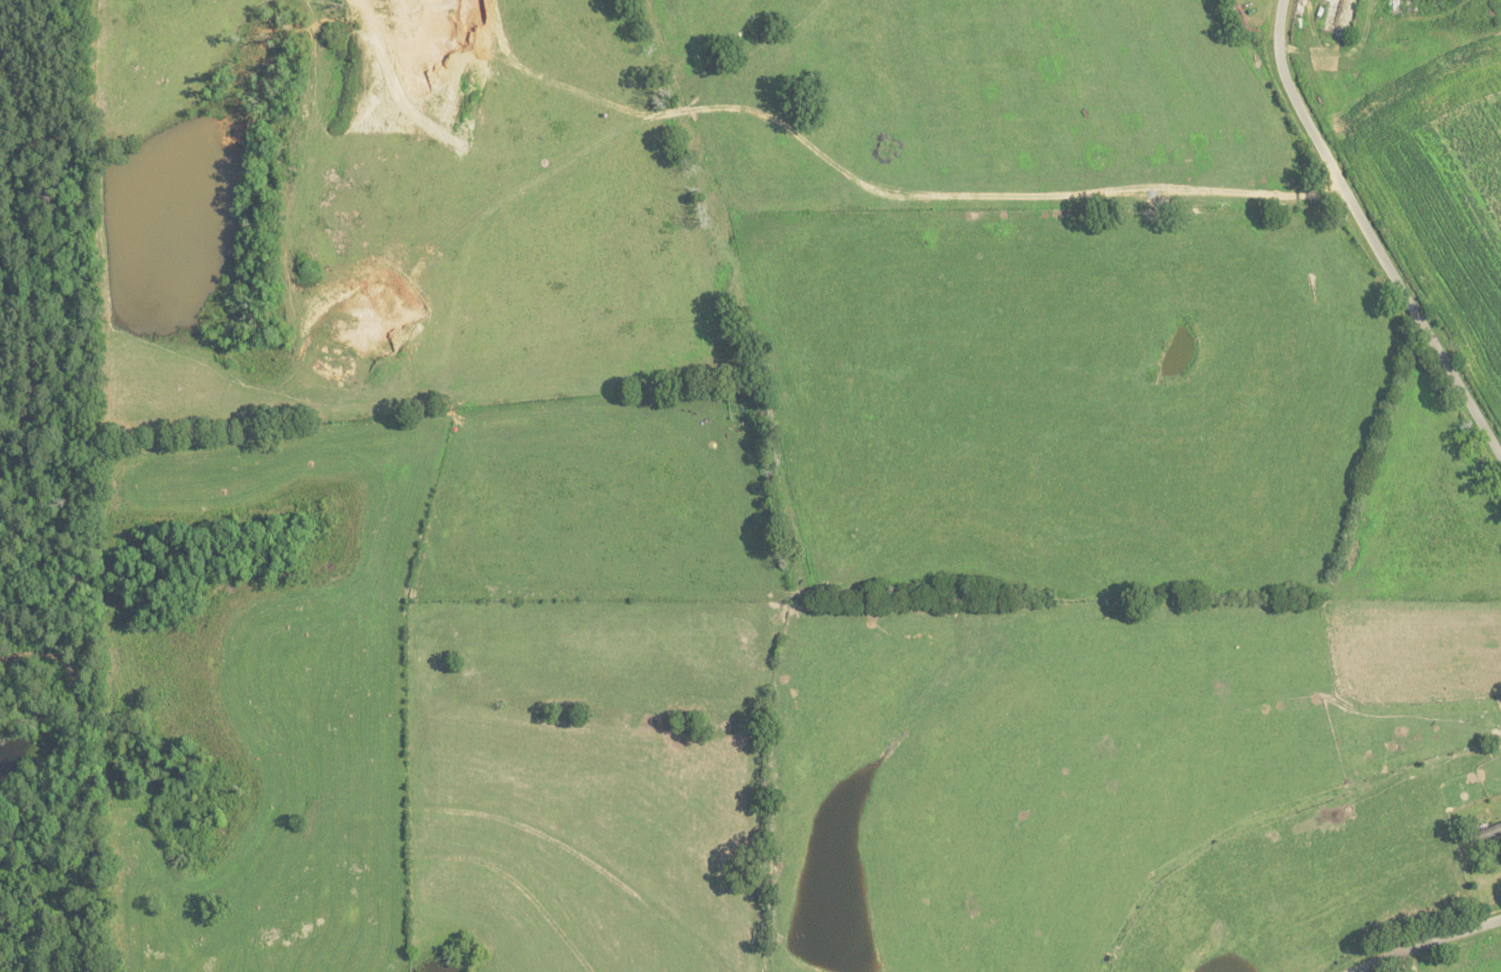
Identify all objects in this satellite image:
road: (1368, 238)
building: (1483, 832)
road: (1429, 944)

